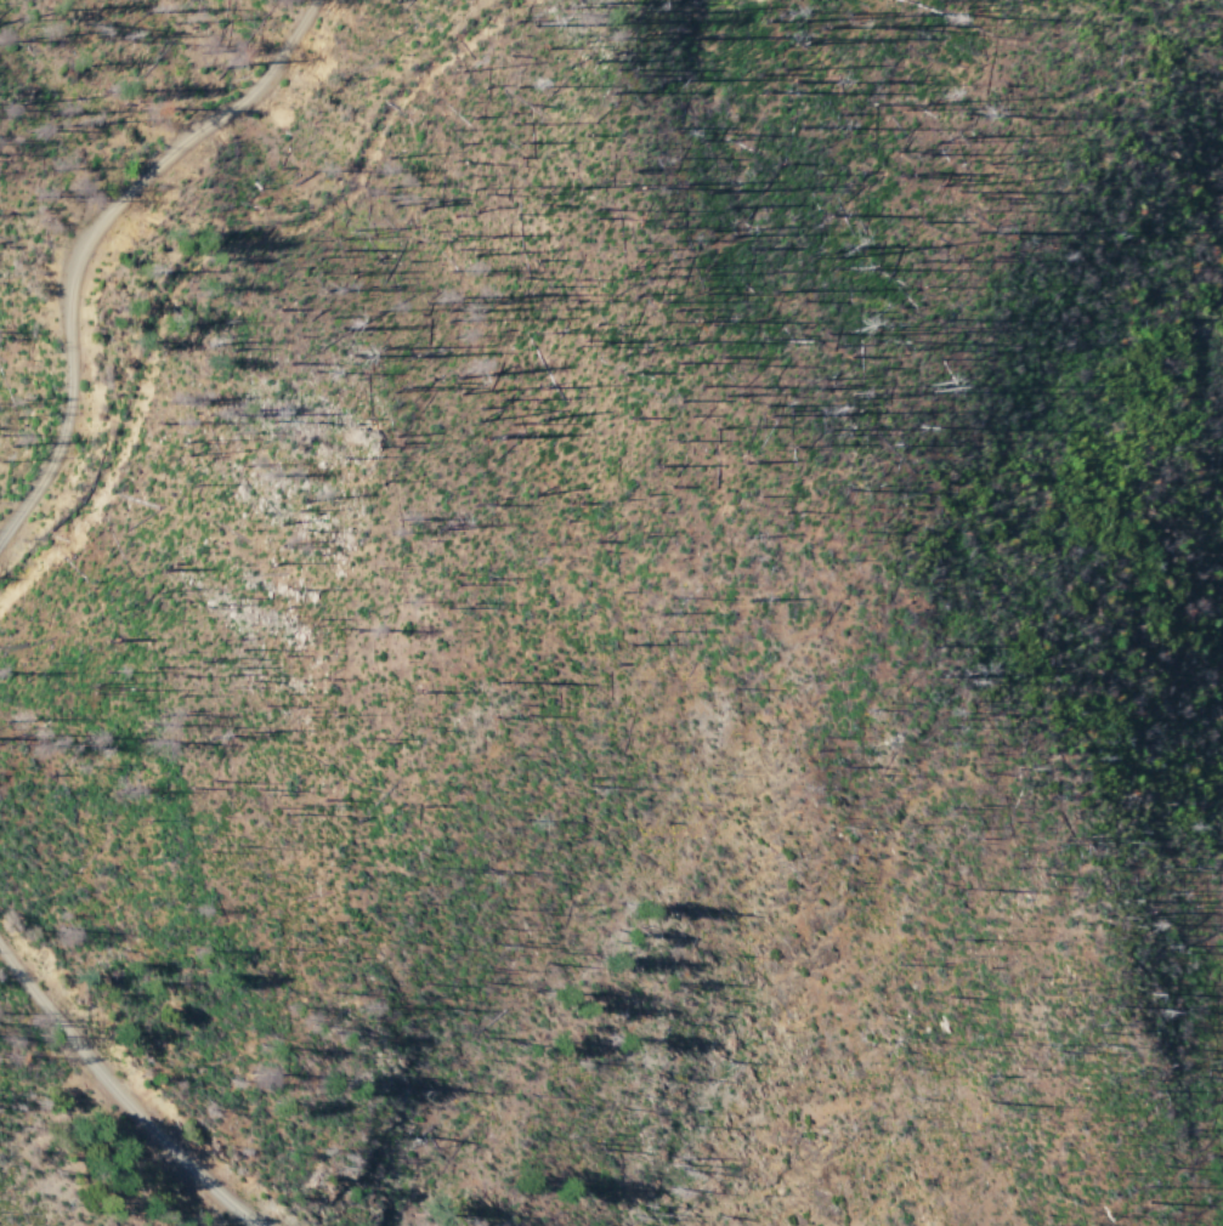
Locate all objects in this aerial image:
road: (145, 242)
road: (64, 1134)

